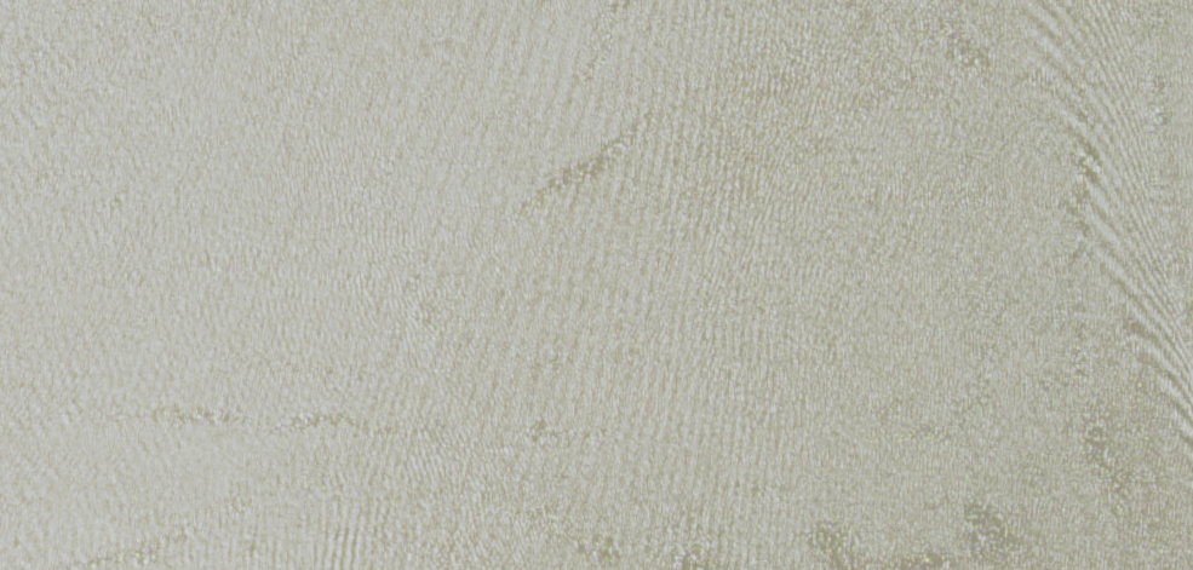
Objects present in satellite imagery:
river: (753, 311)

